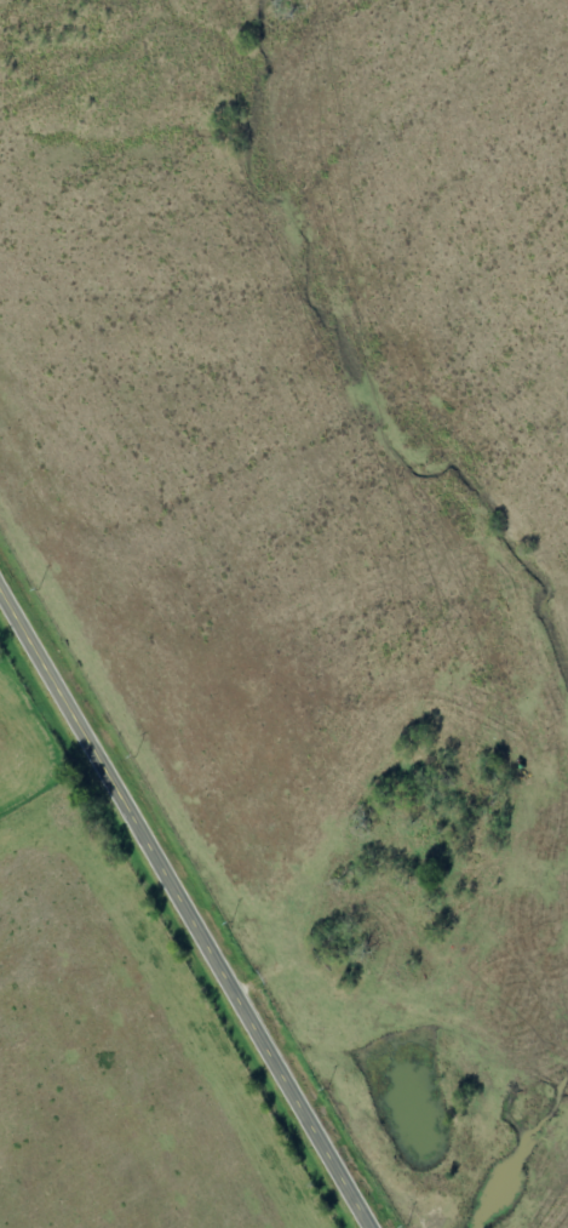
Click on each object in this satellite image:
road: (191, 898)

